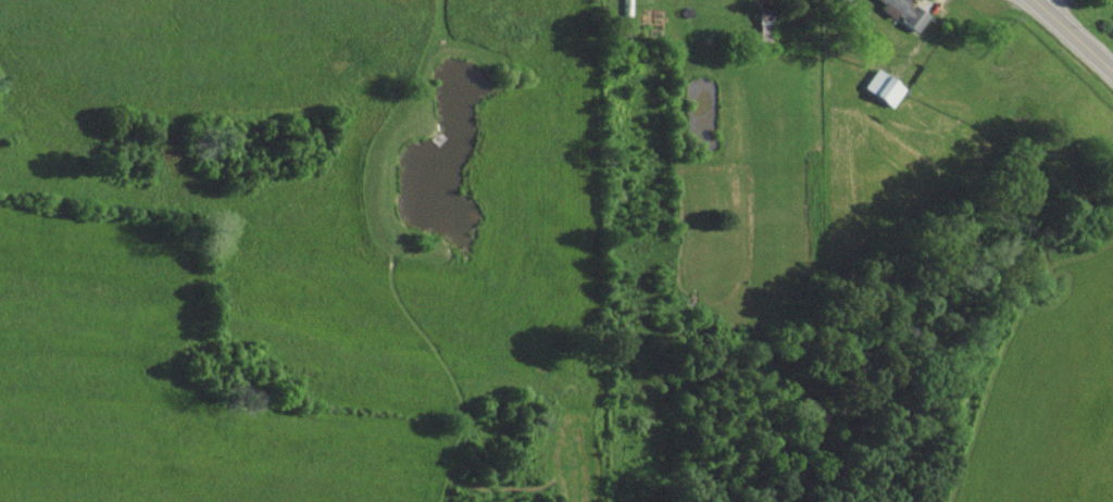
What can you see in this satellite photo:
building: (1106, 0)
building: (1112, 1)
building: (902, 12)
road: (1071, 26)
road: (1108, 59)
building: (881, 87)

